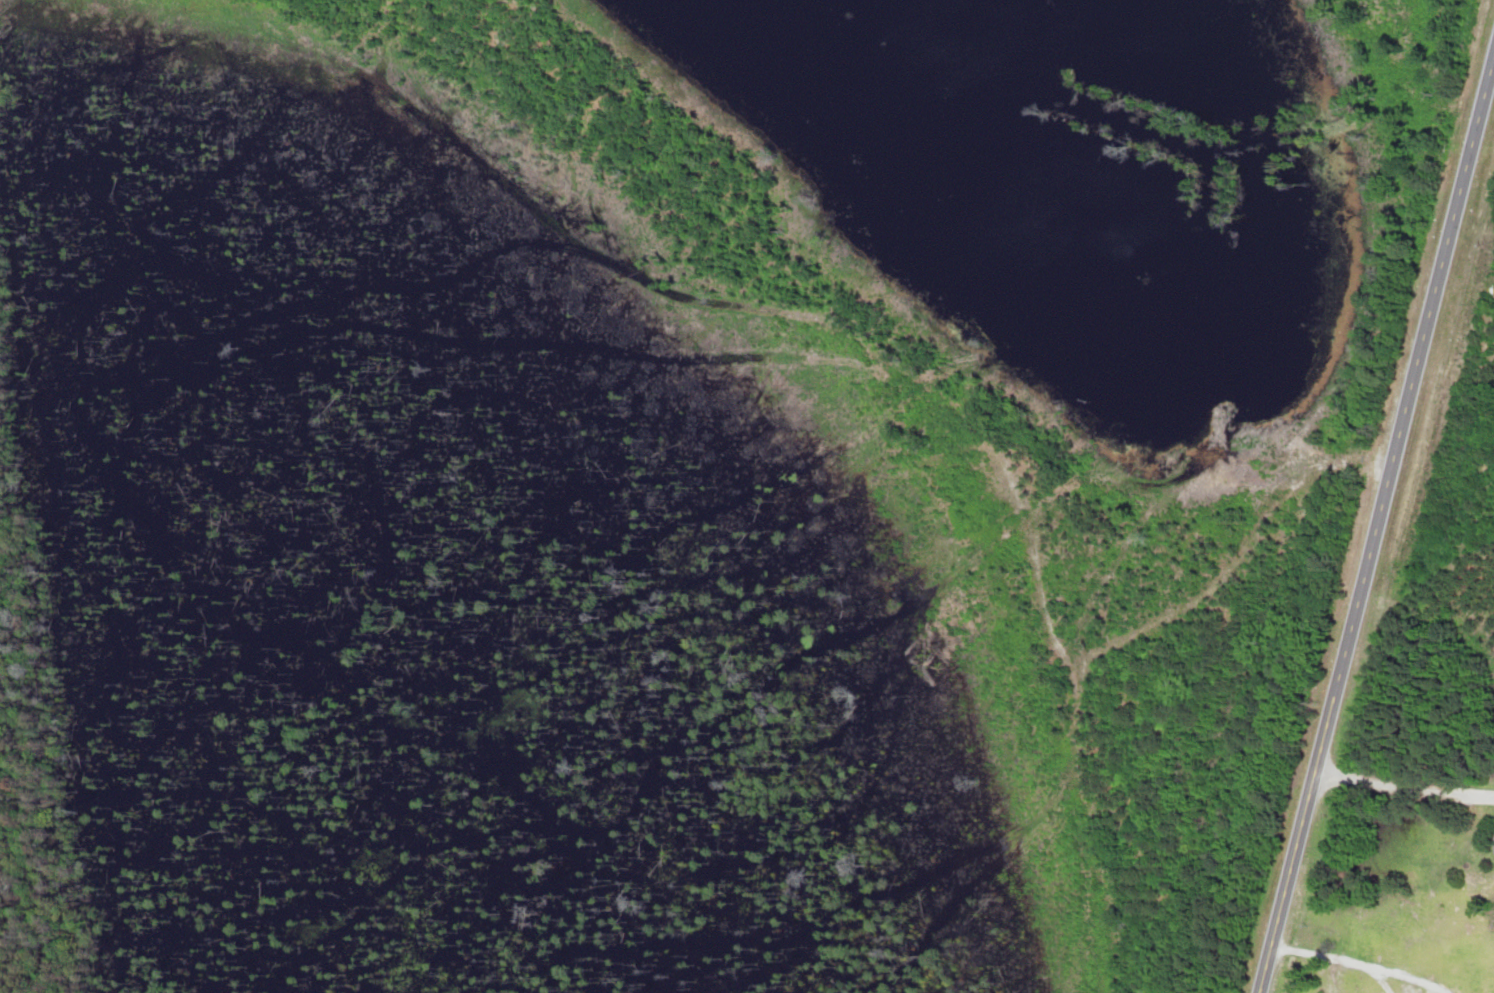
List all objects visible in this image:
road: (1376, 525)
road: (1403, 787)
building: (1492, 841)

